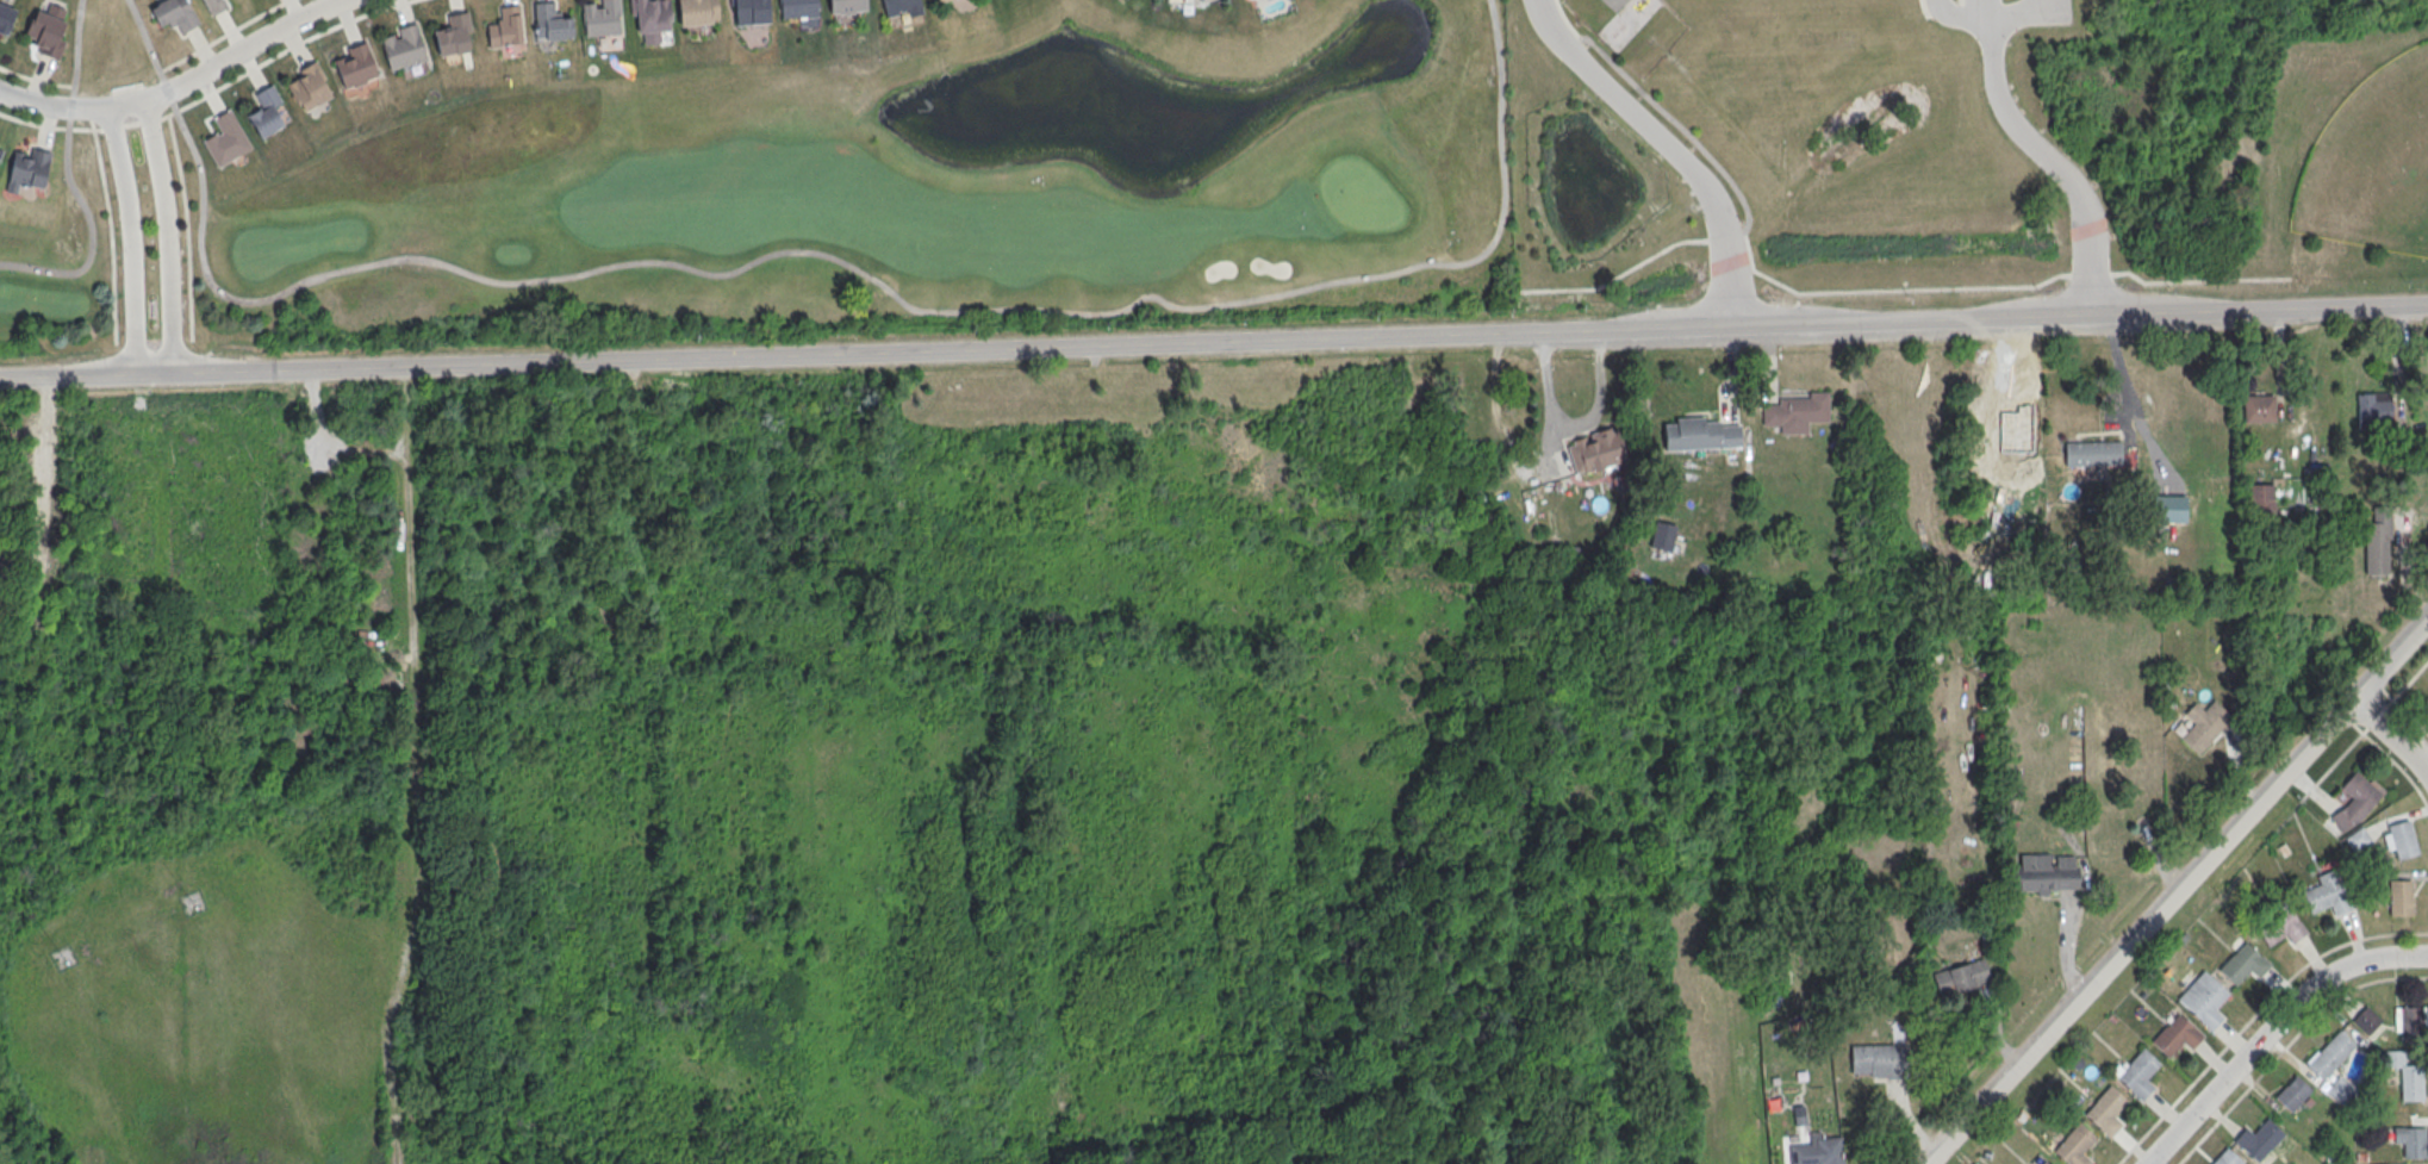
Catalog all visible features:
building: (938, 0)
building: (940, 0)
parking lot: (1974, 1)
building: (213, 5)
building: (846, 5)
building: (796, 7)
building: (901, 7)
road: (1990, 10)
building: (749, 11)
building: (697, 12)
road: (1960, 12)
building: (174, 13)
building: (5, 17)
building: (600, 17)
building: (552, 19)
building: (654, 21)
road: (1992, 21)
building: (503, 25)
building: (43, 32)
building: (452, 33)
road: (223, 35)
road: (147, 45)
building: (401, 46)
road: (239, 48)
road: (282, 50)
building: (353, 64)
road: (35, 80)
building: (307, 86)
road: (69, 108)
building: (264, 110)
road: (89, 114)
road: (148, 122)
road: (131, 123)
road: (114, 126)
road: (49, 127)
building: (225, 139)
road: (2032, 143)
road: (1667, 147)
building: (0, 150)
building: (29, 169)
road: (71, 178)
park: (795, 191)
road: (186, 225)
road: (110, 230)
road: (166, 234)
road: (129, 239)
road: (872, 278)
road: (1214, 342)
road: (2122, 375)
building: (2373, 406)
building: (2258, 409)
building: (1795, 412)
road: (1573, 427)
building: (1699, 435)
building: (1596, 450)
building: (2092, 453)
building: (2260, 499)
building: (1662, 536)
building: (2377, 541)
building: (2427, 698)
building: (2427, 699)
road: (2409, 716)
road: (2345, 717)
building: (2204, 726)
road: (2364, 730)
road: (2391, 730)
road: (2393, 761)
building: (2354, 801)
building: (2402, 839)
building: (2042, 873)
road: (2177, 889)
building: (2326, 894)
building: (2399, 898)
building: (2280, 926)
building: (2242, 964)
building: (1960, 977)
building: (2203, 998)
road: (2254, 1015)
building: (2365, 1020)
building: (2411, 1025)
road: (2271, 1028)
building: (2175, 1037)
road: (2287, 1044)
building: (2329, 1056)
building: (1879, 1060)
building: (2138, 1073)
building: (2410, 1082)
building: (2339, 1091)
building: (2291, 1094)
building: (2105, 1110)
building: (2258, 1140)
building: (2414, 1144)
building: (2074, 1145)
building: (1817, 1151)
building: (2225, 1158)
building: (2044, 1163)

